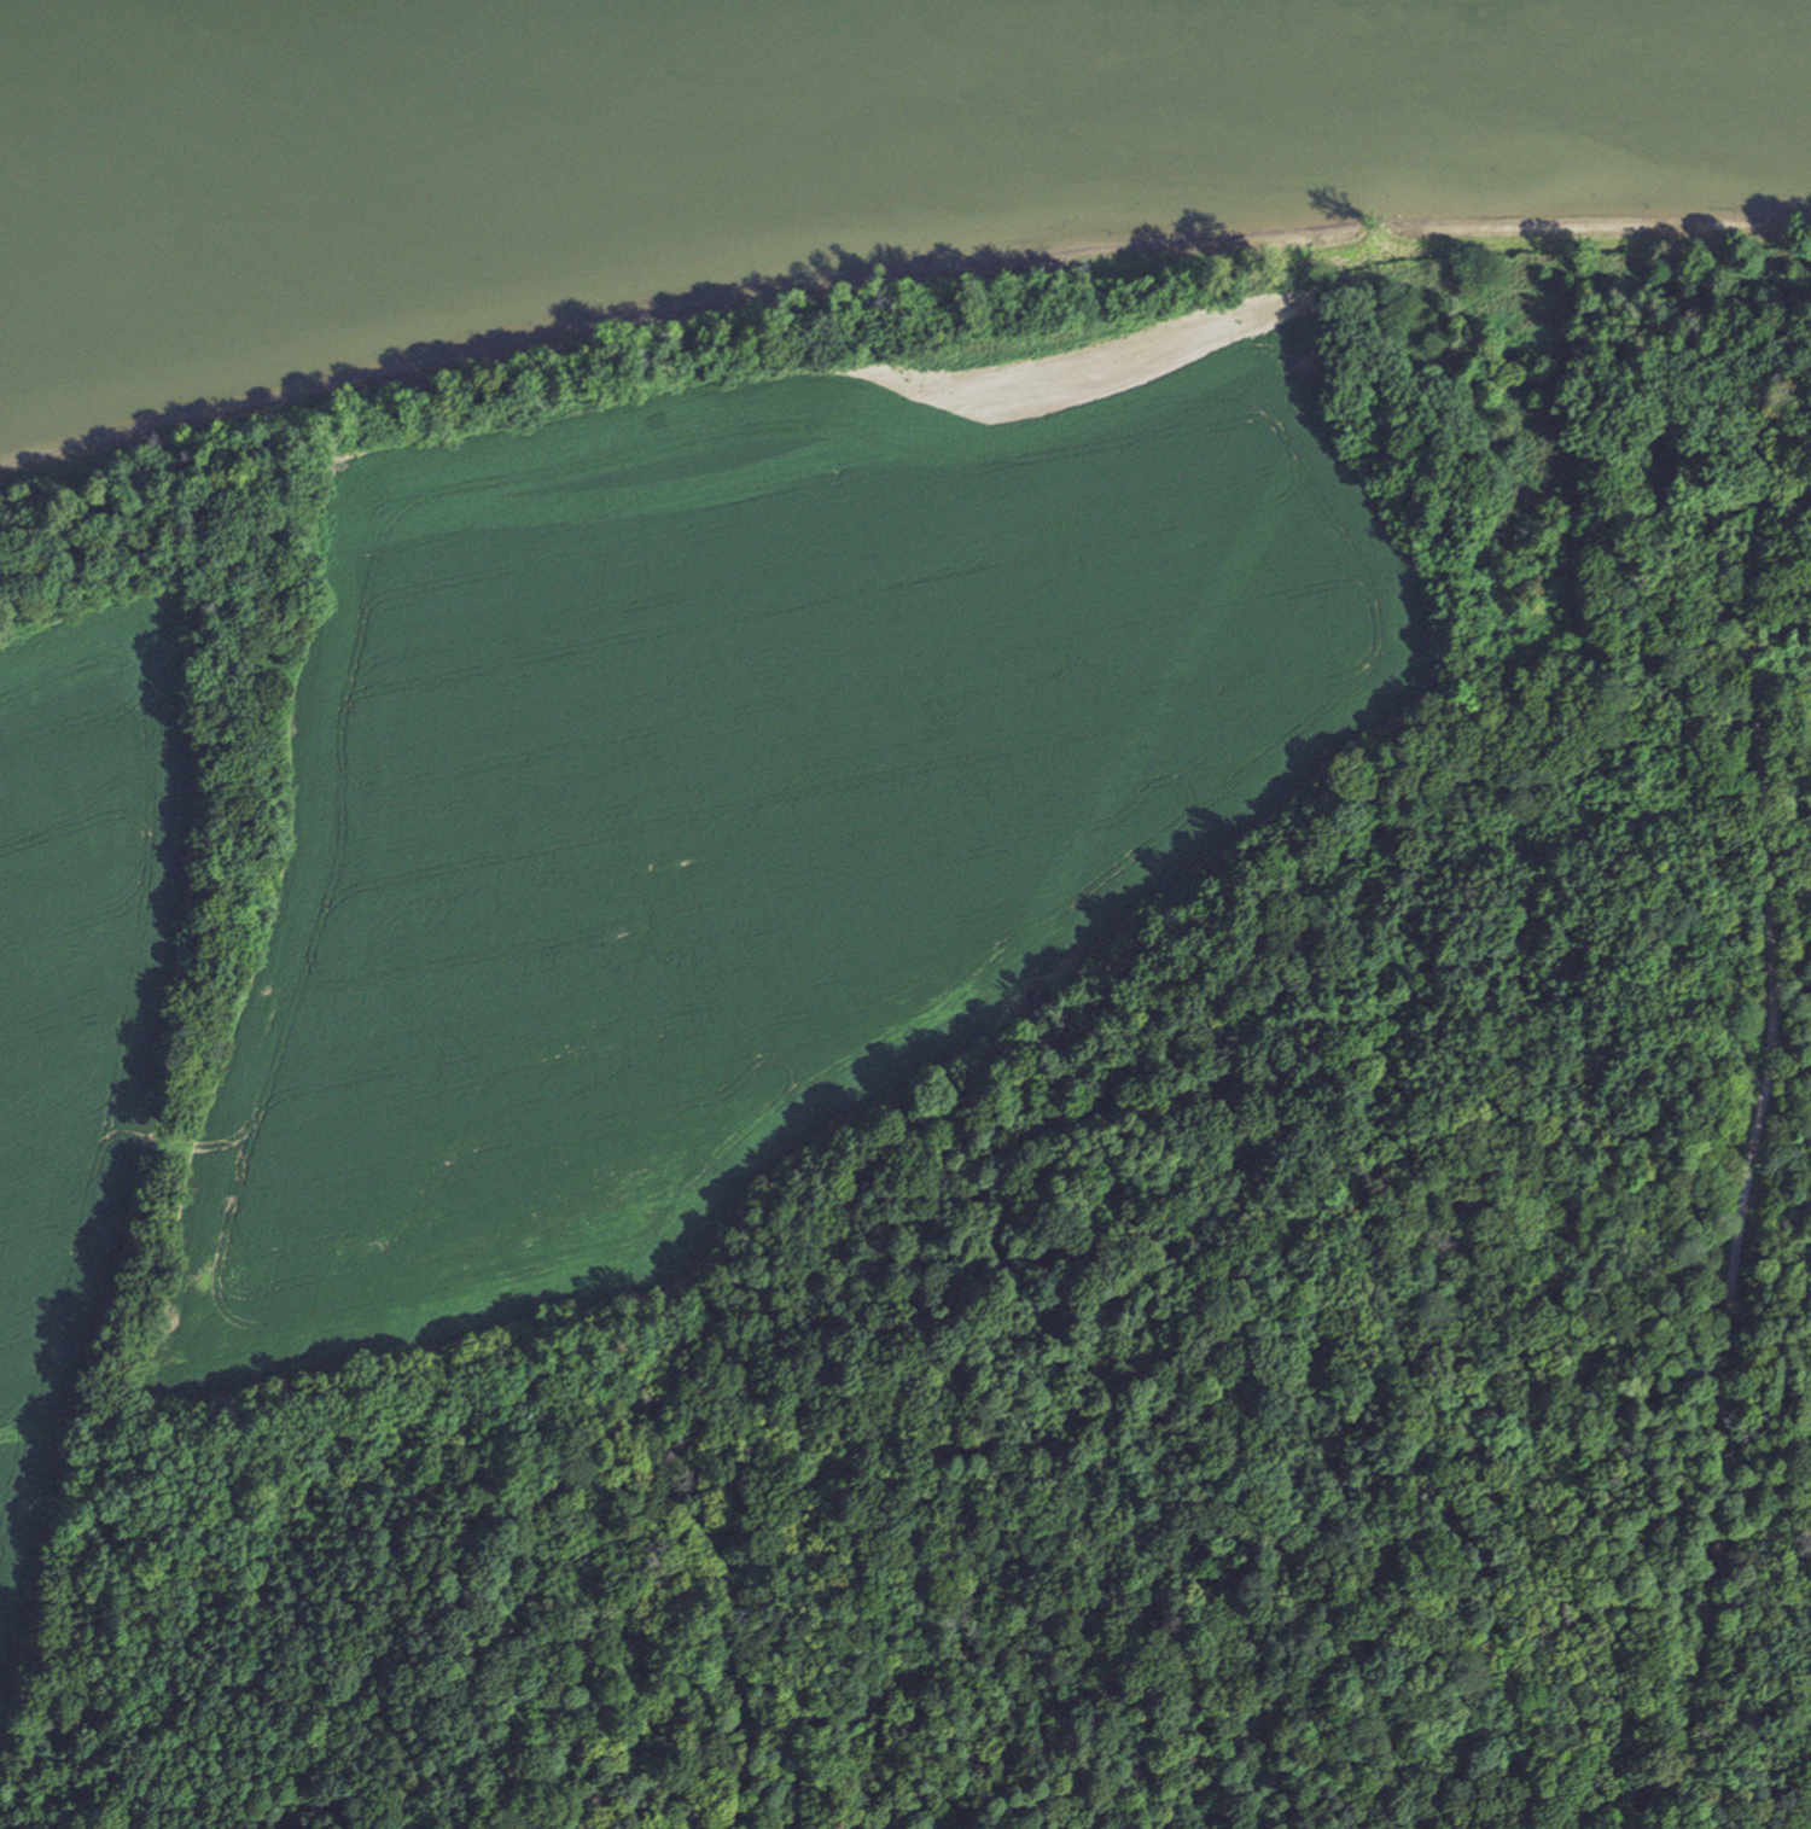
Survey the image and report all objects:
road: (1745, 1217)

